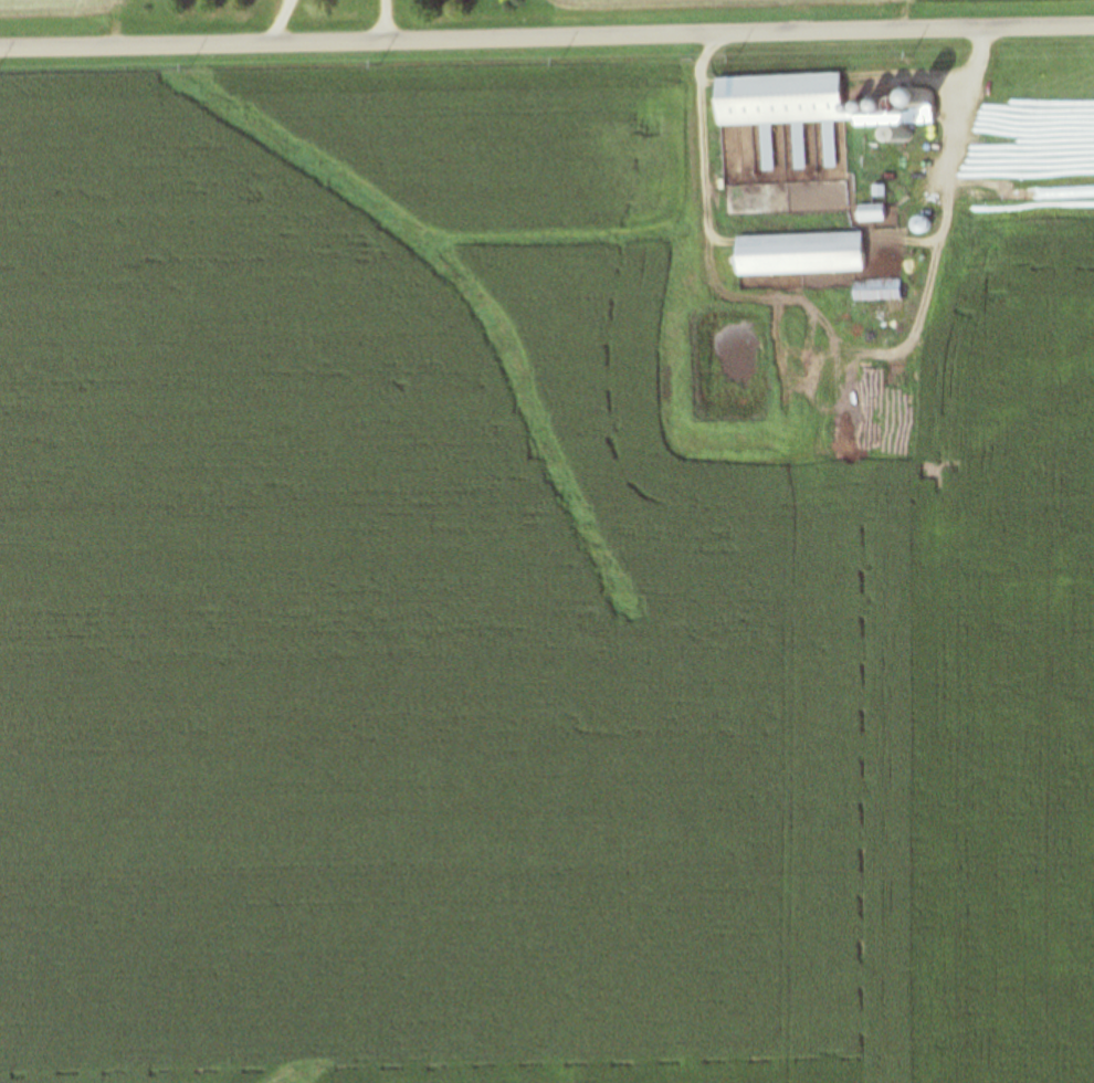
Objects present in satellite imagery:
road: (547, 36)
building: (811, 106)
building: (766, 153)
building: (874, 213)
building: (917, 225)
building: (797, 254)

